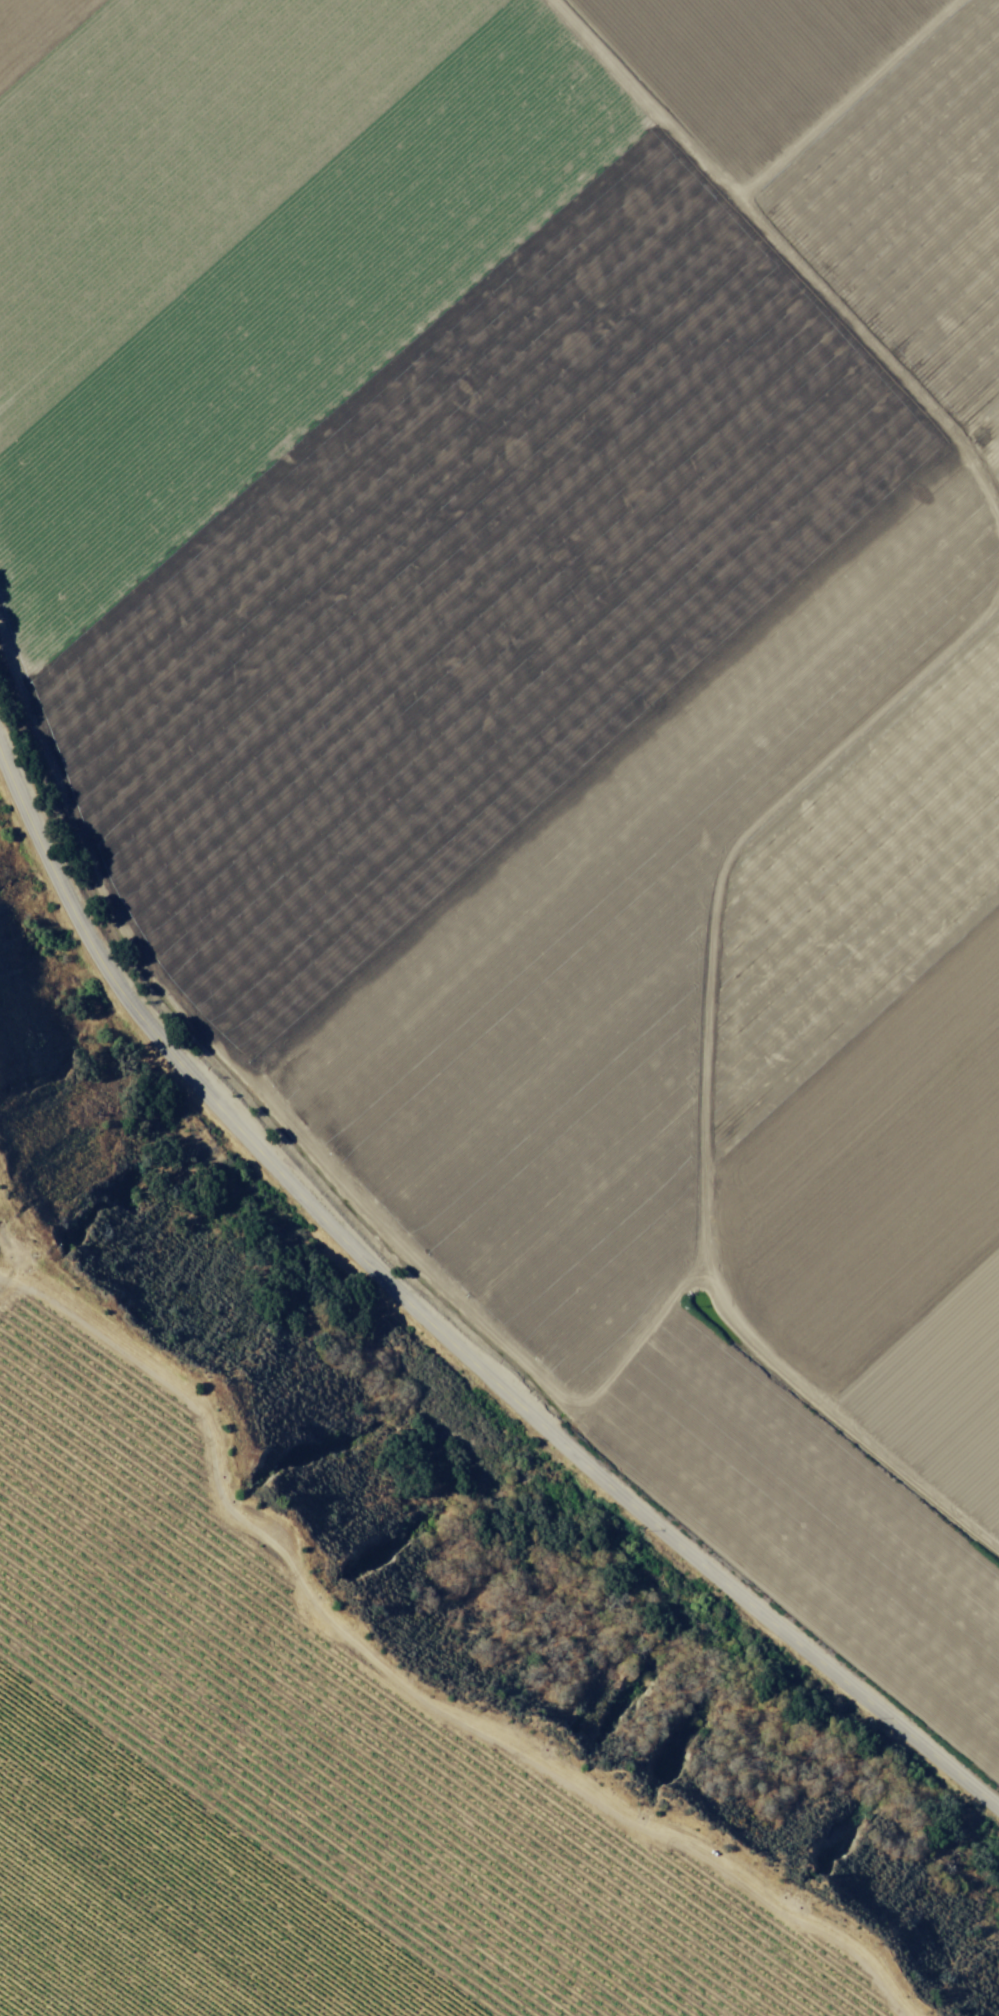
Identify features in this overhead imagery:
road: (752, 197)
road: (437, 1327)

